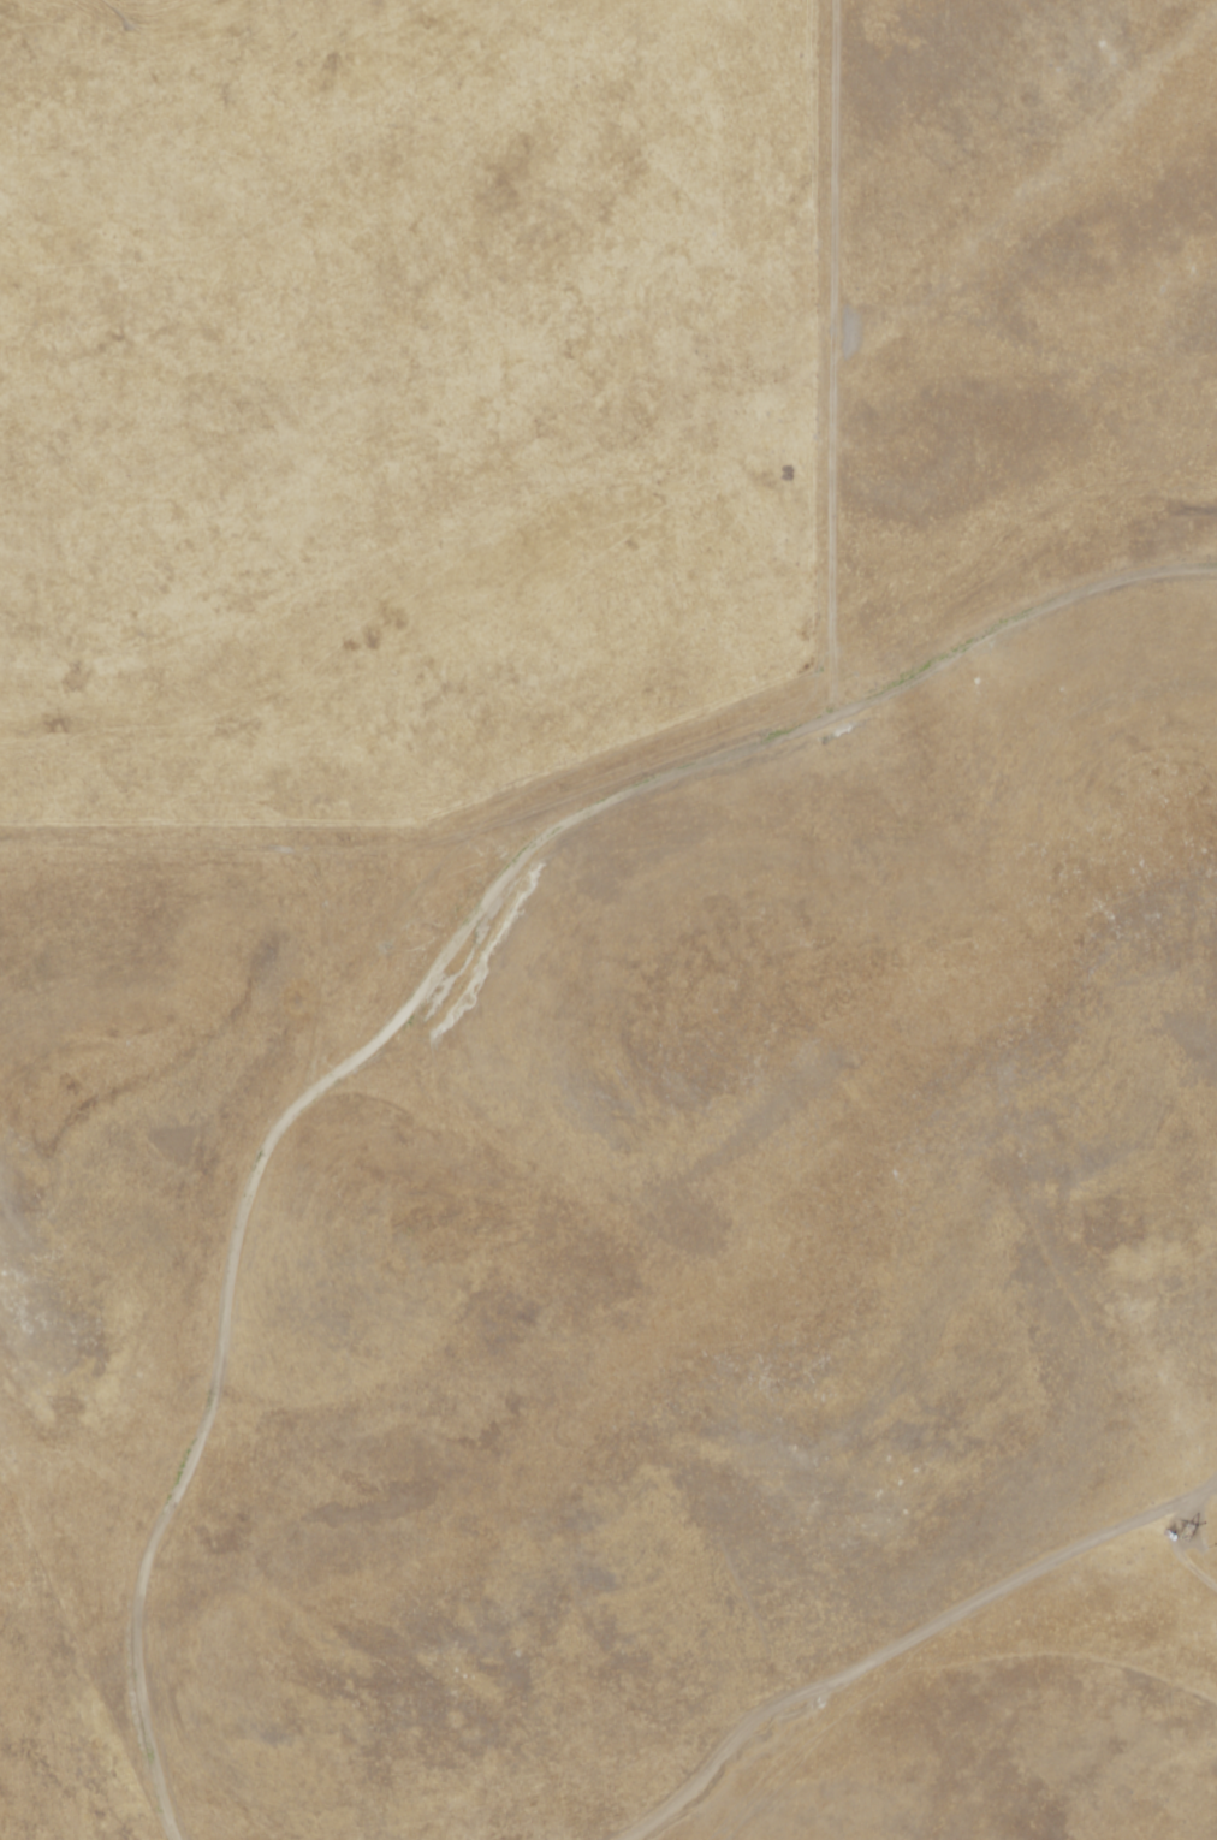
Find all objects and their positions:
road: (392, 1001)
road: (920, 1670)

